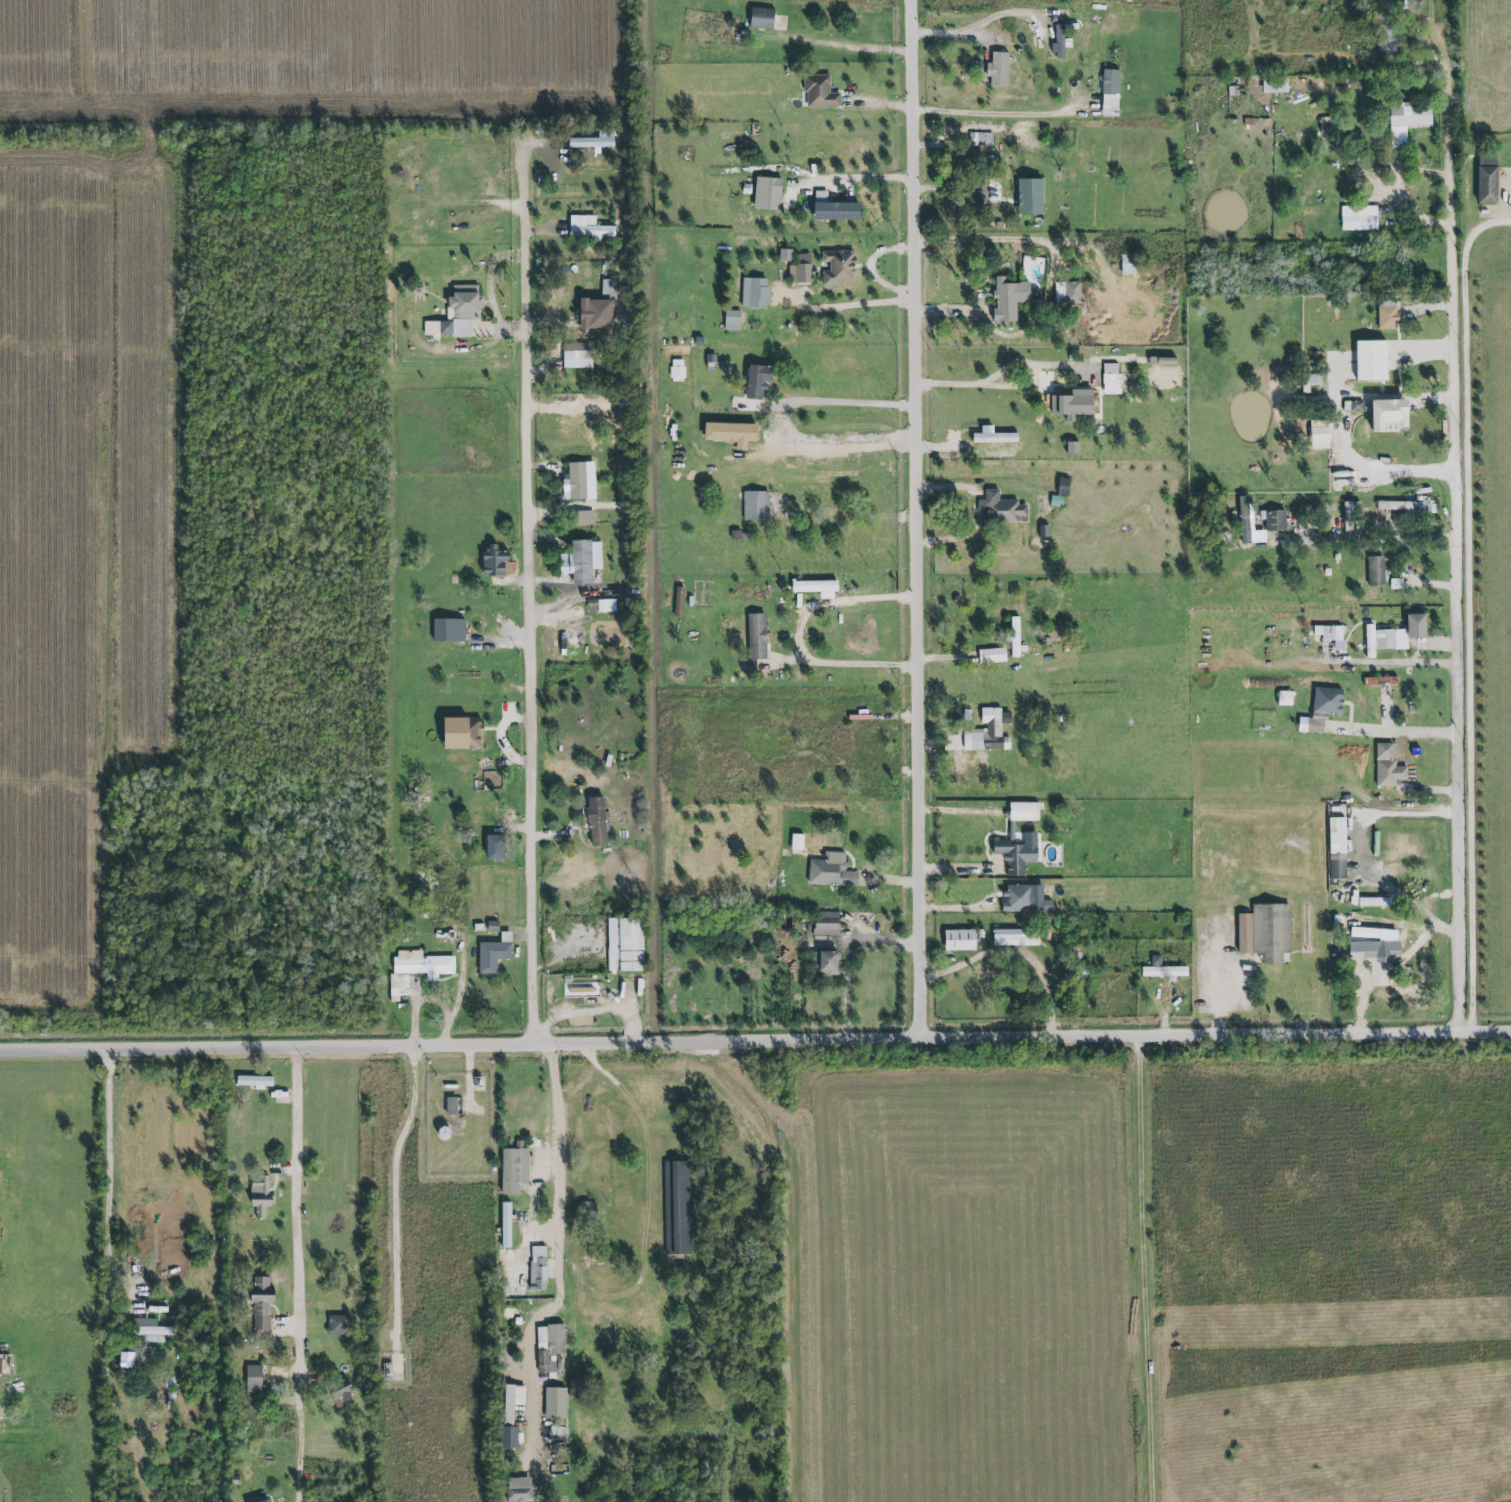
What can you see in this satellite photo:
building: (760, 19)
road: (956, 35)
building: (1387, 40)
building: (1059, 43)
road: (850, 46)
building: (997, 70)
building: (1274, 85)
building: (819, 92)
building: (1109, 93)
road: (1005, 115)
building: (1406, 120)
building: (980, 139)
building: (592, 141)
road: (866, 178)
building: (1486, 179)
road: (950, 188)
building: (766, 194)
building: (1029, 197)
road: (1411, 206)
building: (833, 210)
building: (1358, 218)
building: (587, 228)
road: (1484, 239)
road: (987, 240)
building: (784, 255)
building: (1127, 264)
building: (839, 268)
road: (871, 269)
building: (800, 270)
building: (607, 288)
building: (753, 293)
building: (1067, 293)
building: (1010, 299)
road: (849, 307)
building: (455, 313)
building: (593, 315)
building: (1387, 315)
building: (731, 321)
building: (576, 360)
building: (1162, 361)
building: (1370, 361)
building: (677, 370)
building: (1114, 380)
building: (756, 382)
building: (1311, 384)
road: (1007, 385)
road: (847, 405)
building: (1072, 405)
building: (1353, 407)
building: (1388, 417)
road: (1334, 429)
building: (730, 434)
building: (992, 437)
road: (835, 446)
building: (1071, 448)
building: (578, 482)
building: (1060, 493)
building: (755, 506)
building: (1400, 507)
building: (1000, 509)
building: (583, 518)
road: (914, 518)
building: (1275, 521)
building: (1248, 525)
road: (1371, 537)
building: (492, 559)
building: (580, 560)
building: (1375, 571)
road: (1461, 582)
building: (1395, 583)
building: (813, 586)
building: (600, 605)
road: (527, 619)
building: (447, 629)
building: (1409, 630)
building: (755, 636)
road: (801, 637)
building: (1015, 637)
building: (1330, 637)
building: (1376, 639)
road: (944, 657)
road: (1394, 664)
building: (1380, 683)
building: (1284, 698)
building: (1323, 705)
building: (987, 731)
road: (1403, 731)
building: (460, 732)
building: (1387, 766)
building: (1023, 811)
road: (1417, 815)
building: (595, 820)
building: (795, 841)
building: (493, 847)
building: (1015, 855)
building: (830, 871)
building: (1024, 899)
building: (1373, 901)
building: (825, 923)
building: (1264, 932)
building: (1373, 932)
building: (1015, 937)
building: (958, 940)
building: (624, 944)
building: (1372, 947)
building: (493, 953)
building: (828, 962)
road: (1396, 963)
building: (416, 969)
building: (1162, 971)
road: (1489, 1030)
road: (734, 1042)
building: (253, 1081)
building: (450, 1106)
building: (512, 1170)
road: (109, 1180)
road: (394, 1190)
building: (260, 1195)
building: (676, 1207)
building: (505, 1225)
road: (559, 1251)
building: (538, 1268)
road: (1154, 1268)
road: (296, 1275)
building: (260, 1303)
building: (337, 1324)
building: (151, 1330)
building: (548, 1346)
building: (4, 1364)
building: (252, 1380)
building: (340, 1393)
building: (554, 1403)
building: (510, 1414)
building: (518, 1490)
building: (265, 1501)

